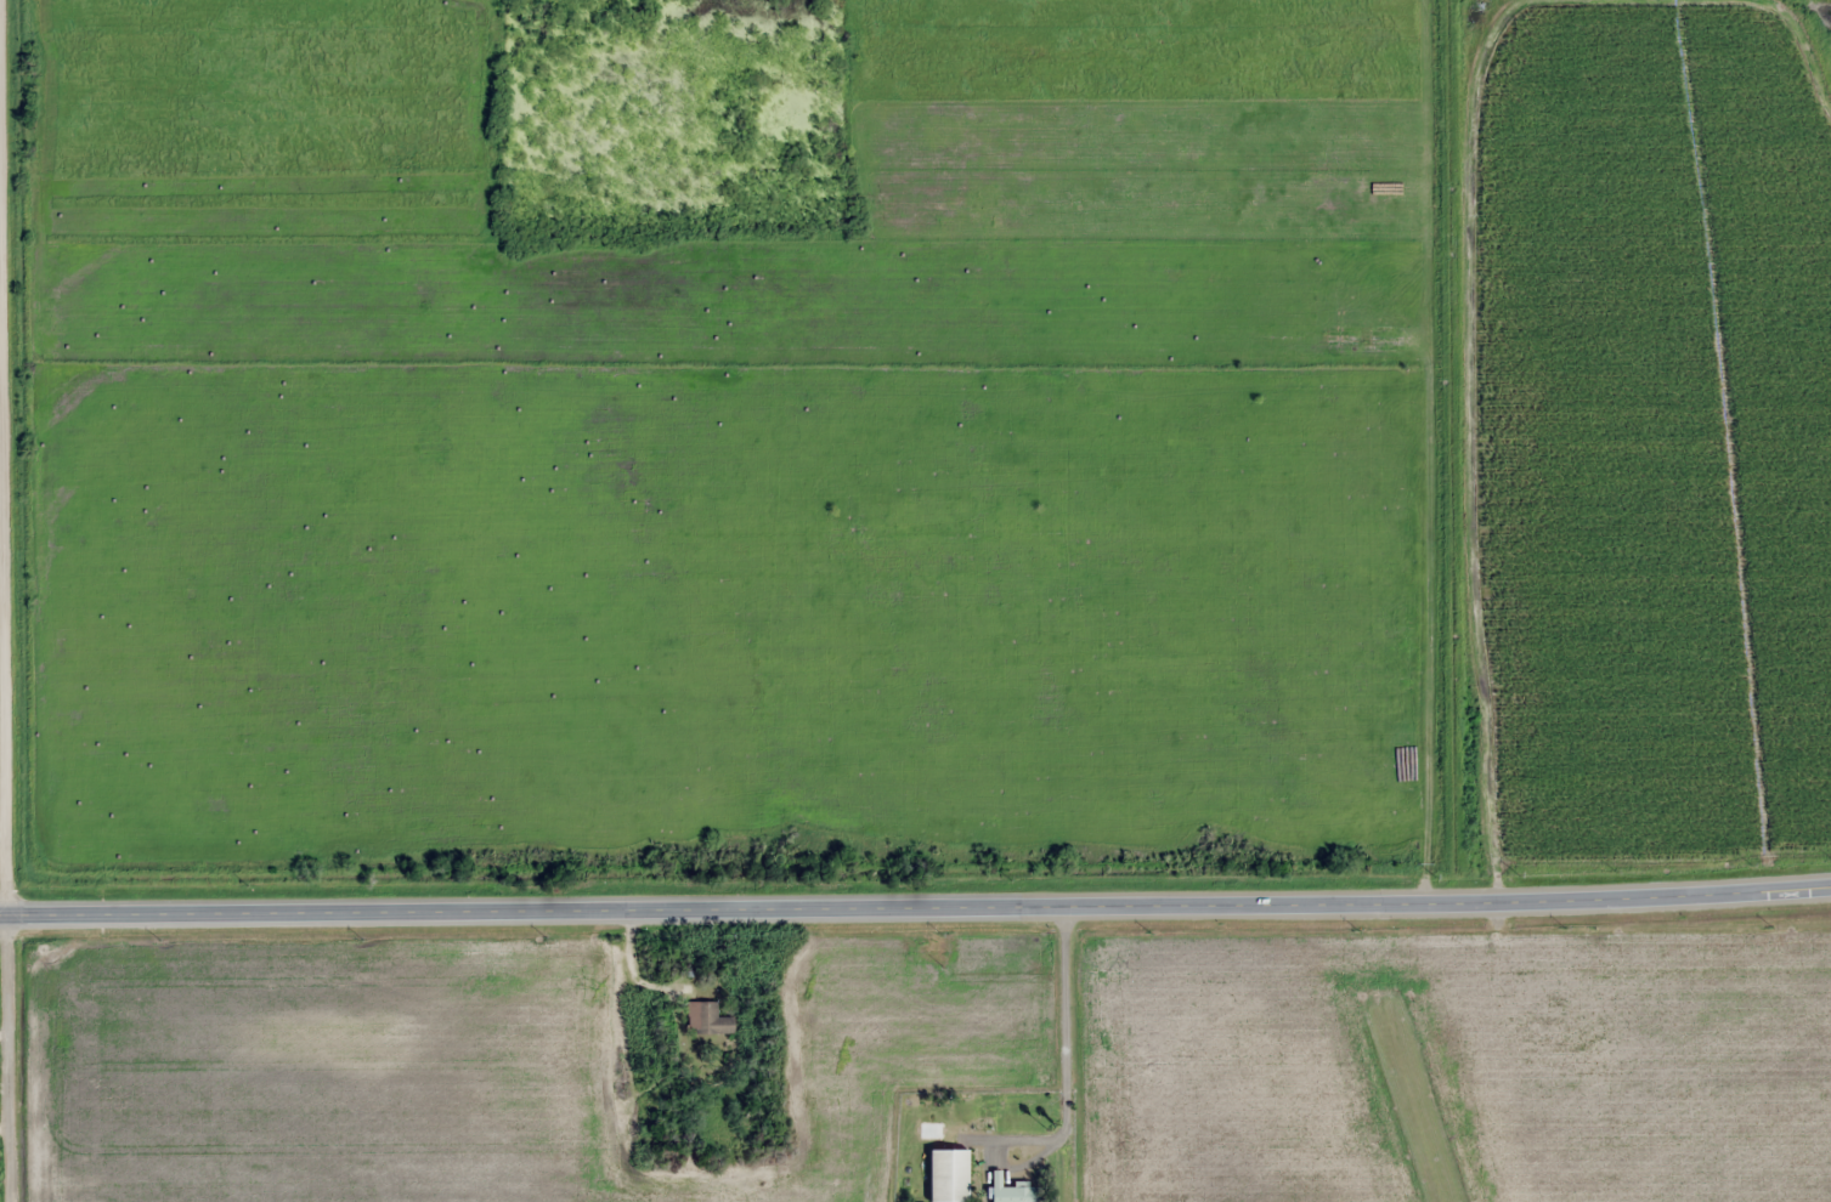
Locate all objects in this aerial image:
road: (6, 613)
road: (915, 905)
building: (707, 1019)
airport runway: (1420, 1093)
building: (946, 1175)
building: (1008, 1190)

